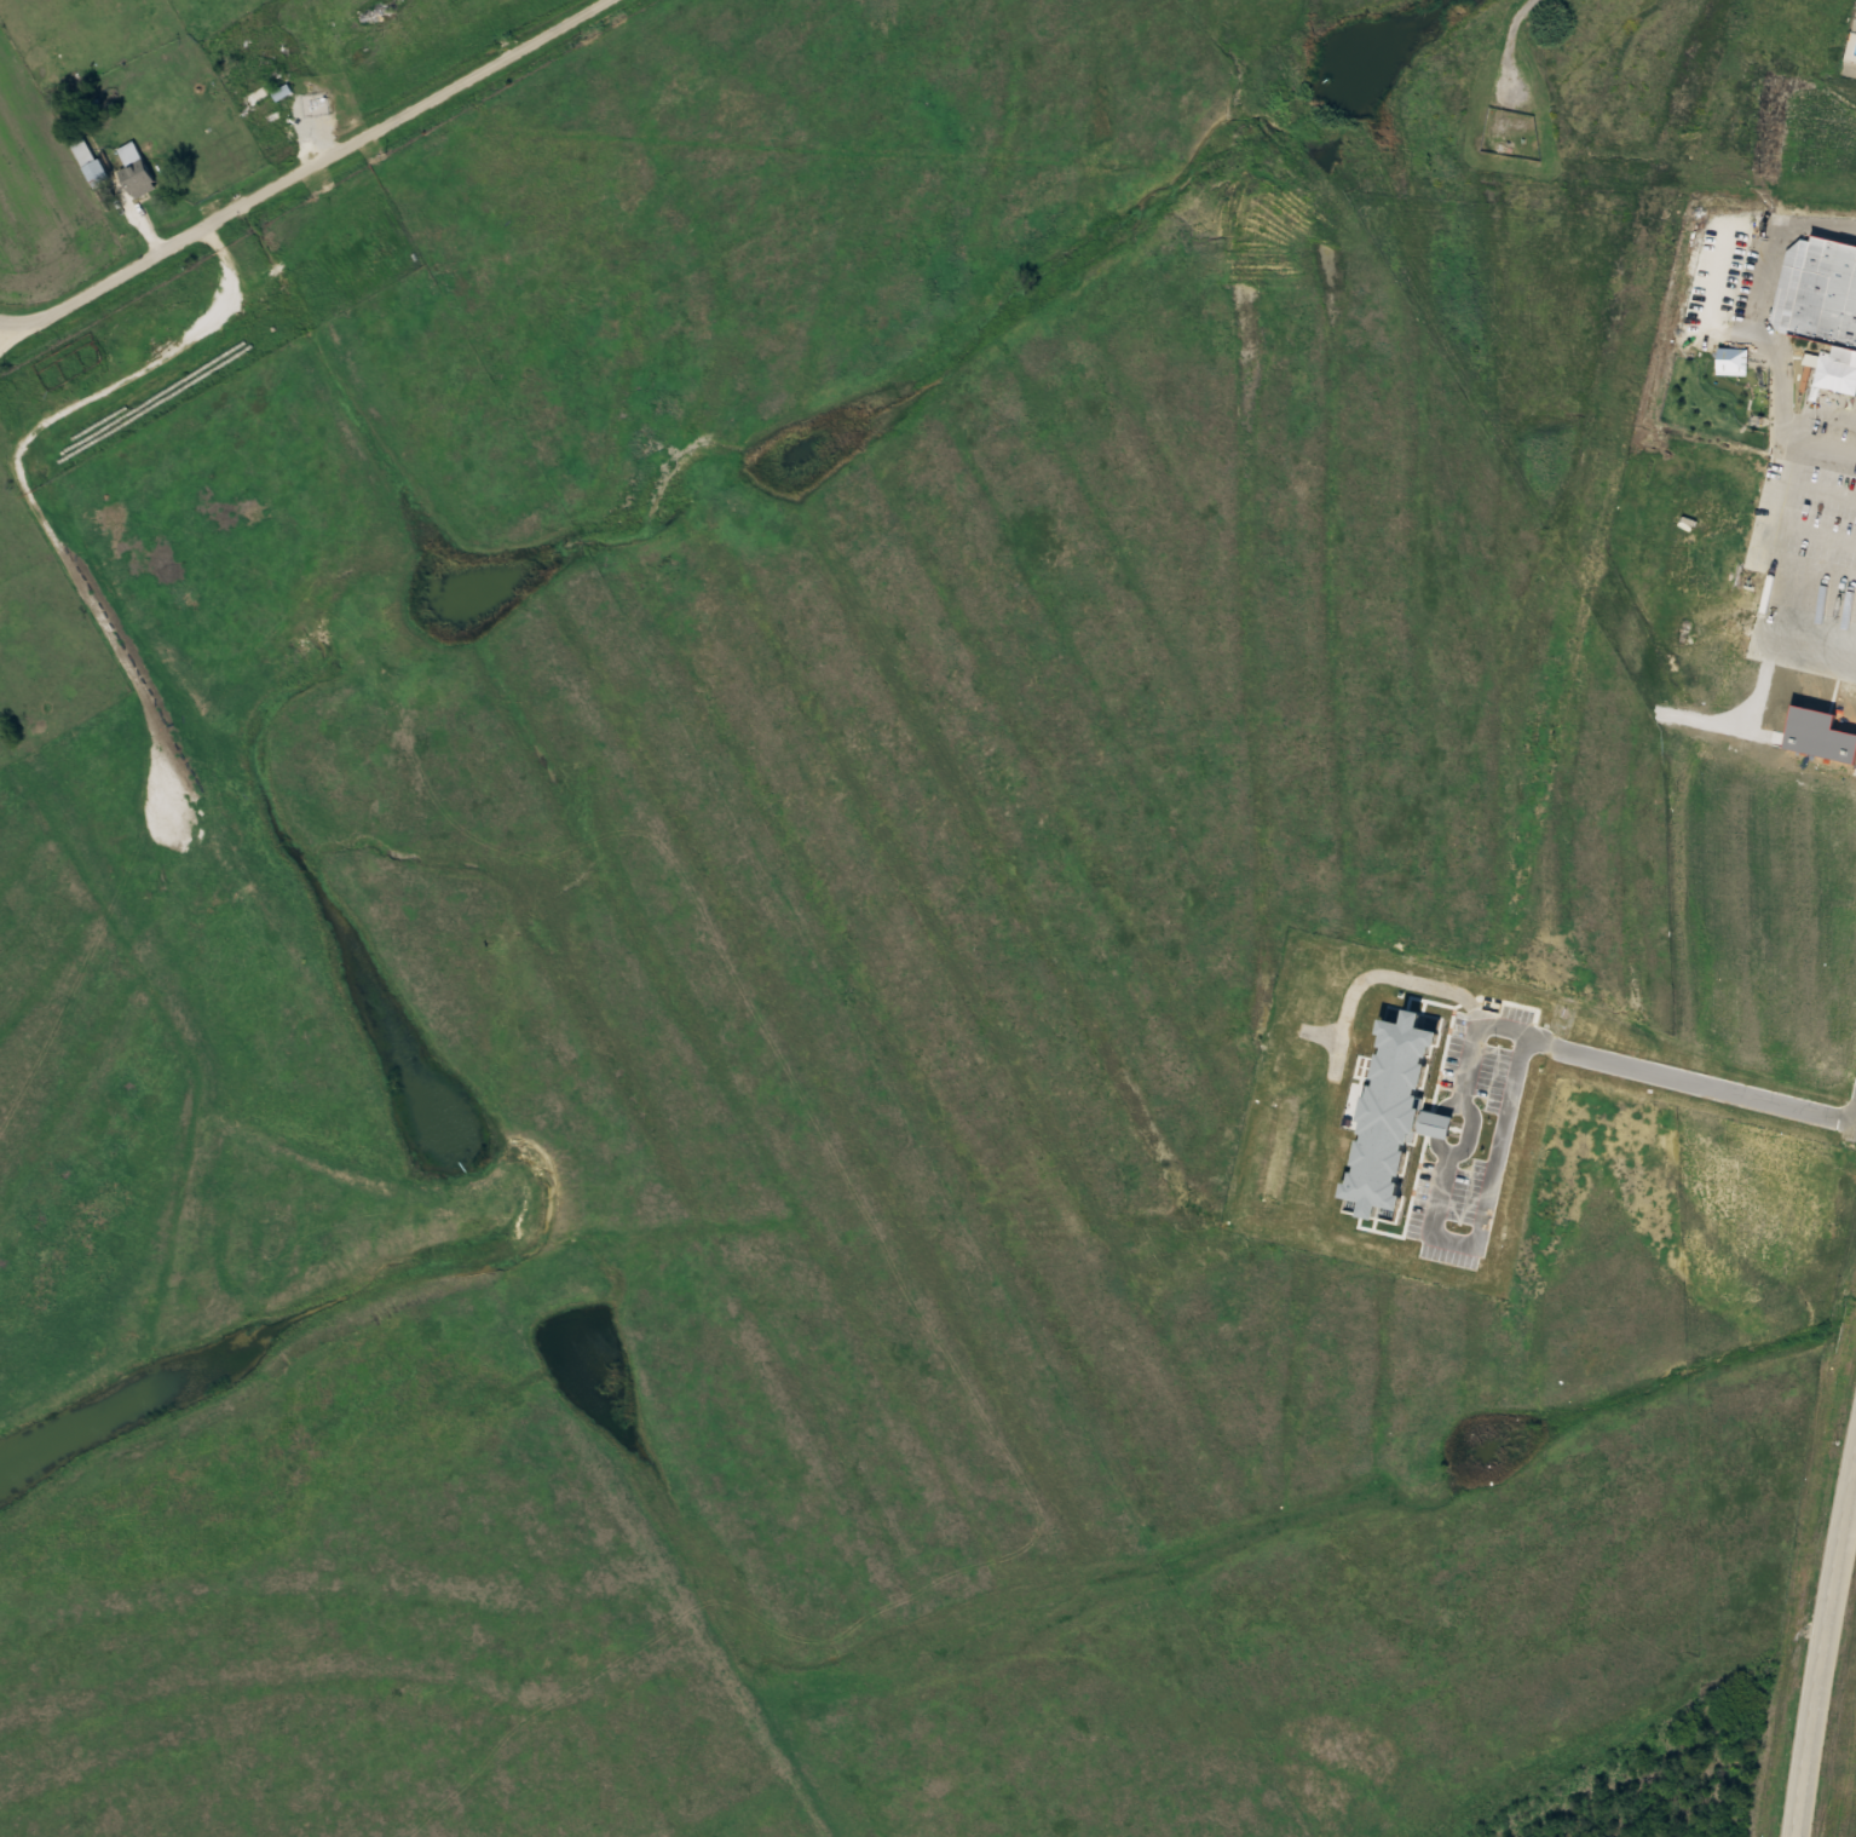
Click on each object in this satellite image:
road: (1523, 40)
building: (71, 82)
building: (267, 102)
building: (88, 160)
road: (304, 169)
building: (139, 177)
parking lot: (1745, 278)
building: (1826, 296)
road: (1775, 338)
parking lot: (1834, 420)
road: (1583, 1053)
road: (1436, 1127)
road: (1469, 1131)
road: (1844, 1570)
road: (1827, 1651)

